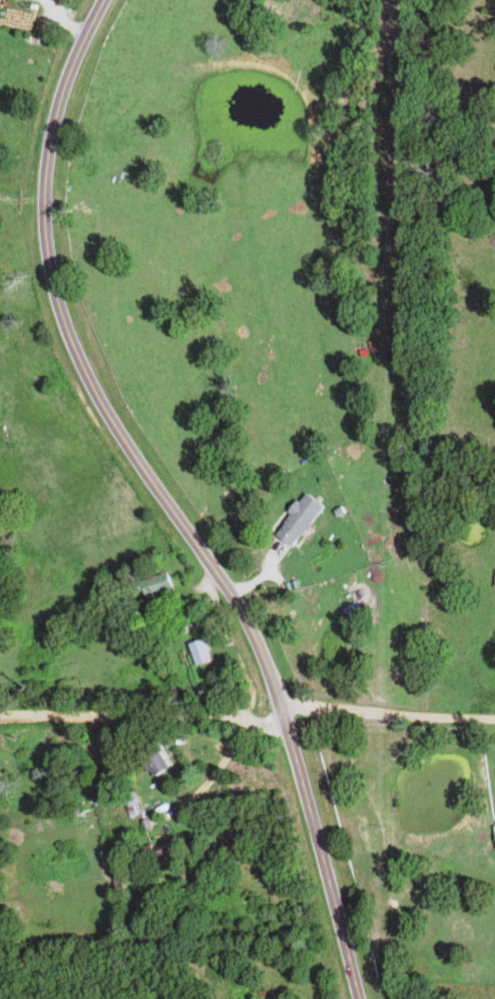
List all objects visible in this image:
road: (165, 499)
building: (304, 519)
building: (160, 585)
building: (205, 651)
road: (142, 712)
road: (389, 716)

